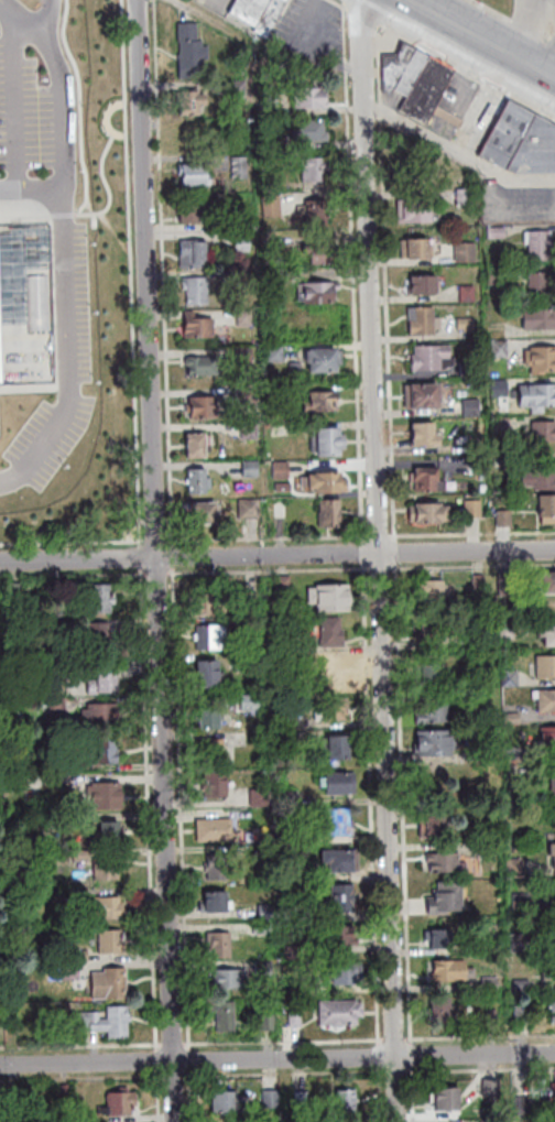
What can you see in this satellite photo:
road: (338, 4)
building: (258, 13)
road: (362, 15)
road: (43, 19)
road: (516, 20)
road: (17, 23)
road: (311, 26)
parking lot: (313, 31)
road: (478, 42)
road: (269, 47)
building: (189, 52)
road: (378, 63)
road: (466, 73)
building: (415, 85)
building: (237, 90)
building: (307, 97)
building: (189, 102)
road: (12, 104)
road: (62, 106)
road: (81, 107)
building: (269, 107)
parking lot: (20, 109)
road: (379, 109)
road: (110, 120)
building: (308, 131)
building: (192, 139)
building: (521, 142)
building: (277, 144)
road: (457, 152)
building: (239, 168)
building: (313, 168)
building: (193, 177)
road: (31, 185)
building: (271, 186)
road: (111, 188)
building: (464, 197)
building: (271, 206)
parking lot: (519, 206)
building: (413, 210)
building: (312, 211)
building: (189, 214)
road: (30, 215)
road: (67, 216)
building: (496, 233)
building: (241, 243)
building: (537, 246)
building: (413, 249)
building: (464, 252)
building: (192, 254)
building: (318, 254)
road: (166, 269)
road: (133, 271)
road: (353, 271)
building: (496, 275)
building: (231, 280)
building: (540, 285)
building: (422, 286)
building: (195, 291)
building: (467, 294)
building: (316, 295)
parking lot: (75, 302)
building: (37, 303)
building: (243, 318)
building: (537, 319)
building: (266, 320)
building: (423, 322)
building: (464, 325)
building: (197, 328)
road: (389, 328)
road: (66, 349)
building: (499, 349)
building: (274, 355)
building: (243, 356)
building: (431, 358)
building: (540, 360)
building: (322, 362)
building: (202, 366)
building: (264, 371)
building: (468, 371)
building: (294, 372)
building: (499, 388)
building: (275, 394)
building: (248, 396)
building: (421, 396)
building: (536, 397)
building: (319, 402)
building: (202, 409)
building: (470, 409)
building: (500, 425)
building: (279, 428)
building: (249, 432)
building: (542, 432)
building: (423, 435)
parking lot: (47, 440)
building: (328, 442)
building: (197, 446)
building: (470, 451)
building: (249, 469)
building: (474, 469)
building: (280, 471)
building: (541, 477)
building: (425, 480)
building: (197, 482)
building: (326, 483)
building: (482, 489)
building: (247, 509)
building: (472, 509)
building: (546, 509)
building: (280, 511)
building: (204, 512)
building: (328, 514)
building: (427, 514)
road: (171, 519)
building: (503, 519)
road: (160, 530)
road: (472, 534)
road: (381, 536)
road: (273, 538)
road: (364, 538)
road: (186, 541)
road: (75, 543)
road: (366, 552)
road: (398, 552)
road: (179, 554)
road: (276, 554)
road: (143, 555)
road: (382, 559)
road: (160, 560)
road: (474, 566)
road: (381, 568)
road: (144, 570)
road: (270, 570)
road: (159, 573)
road: (74, 574)
building: (510, 581)
building: (547, 581)
building: (480, 582)
building: (284, 584)
building: (10, 587)
building: (434, 595)
building: (100, 597)
building: (331, 597)
building: (211, 603)
building: (509, 631)
building: (98, 632)
building: (334, 632)
building: (432, 632)
building: (551, 635)
building: (213, 636)
building: (482, 639)
building: (298, 647)
building: (306, 658)
building: (35, 661)
building: (246, 663)
building: (547, 666)
building: (336, 668)
building: (209, 674)
building: (429, 674)
building: (512, 677)
building: (102, 680)
building: (547, 701)
building: (252, 702)
building: (47, 704)
building: (336, 709)
building: (98, 712)
building: (436, 712)
building: (514, 718)
building: (210, 719)
building: (292, 721)
building: (549, 738)
building: (291, 739)
building: (437, 742)
building: (101, 749)
building: (338, 749)
building: (215, 751)
building: (17, 781)
building: (341, 783)
building: (218, 784)
building: (553, 787)
building: (102, 794)
building: (262, 797)
building: (292, 798)
road: (373, 804)
road: (406, 804)
road: (184, 808)
road: (152, 811)
building: (342, 823)
building: (434, 825)
building: (107, 829)
building: (218, 830)
building: (298, 836)
building: (269, 837)
building: (520, 848)
building: (554, 849)
building: (79, 854)
building: (339, 860)
building: (448, 862)
building: (106, 867)
building: (219, 868)
building: (518, 868)
building: (295, 874)
building: (554, 890)
building: (76, 891)
building: (345, 898)
building: (447, 898)
building: (523, 901)
building: (217, 903)
building: (107, 906)
building: (268, 913)
building: (304, 914)
building: (264, 929)
building: (554, 935)
building: (342, 936)
building: (109, 939)
building: (443, 939)
building: (522, 941)
building: (221, 945)
building: (490, 945)
building: (296, 952)
building: (77, 954)
building: (265, 968)
building: (69, 969)
building: (549, 970)
building: (454, 971)
building: (348, 973)
building: (231, 979)
building: (107, 982)
building: (492, 984)
building: (523, 984)
building: (554, 1005)
building: (442, 1011)
building: (341, 1013)
building: (226, 1016)
building: (494, 1016)
building: (296, 1018)
building: (554, 1018)
building: (101, 1020)
building: (270, 1022)
road: (481, 1037)
road: (398, 1041)
road: (286, 1042)
road: (176, 1045)
road: (81, 1046)
road: (382, 1056)
road: (414, 1056)
road: (15, 1059)
road: (277, 1059)
road: (192, 1060)
road: (160, 1061)
road: (301, 1068)
road: (272, 1069)
road: (481, 1070)
road: (398, 1071)
road: (345, 1074)
road: (229, 1076)
road: (163, 1077)
road: (176, 1077)
building: (493, 1088)
building: (67, 1093)
road: (383, 1094)
road: (415, 1094)
road: (161, 1097)
road: (193, 1097)
building: (272, 1100)
building: (448, 1100)
building: (302, 1103)
building: (348, 1103)
building: (124, 1104)
building: (228, 1104)
building: (526, 1107)
building: (490, 1121)

